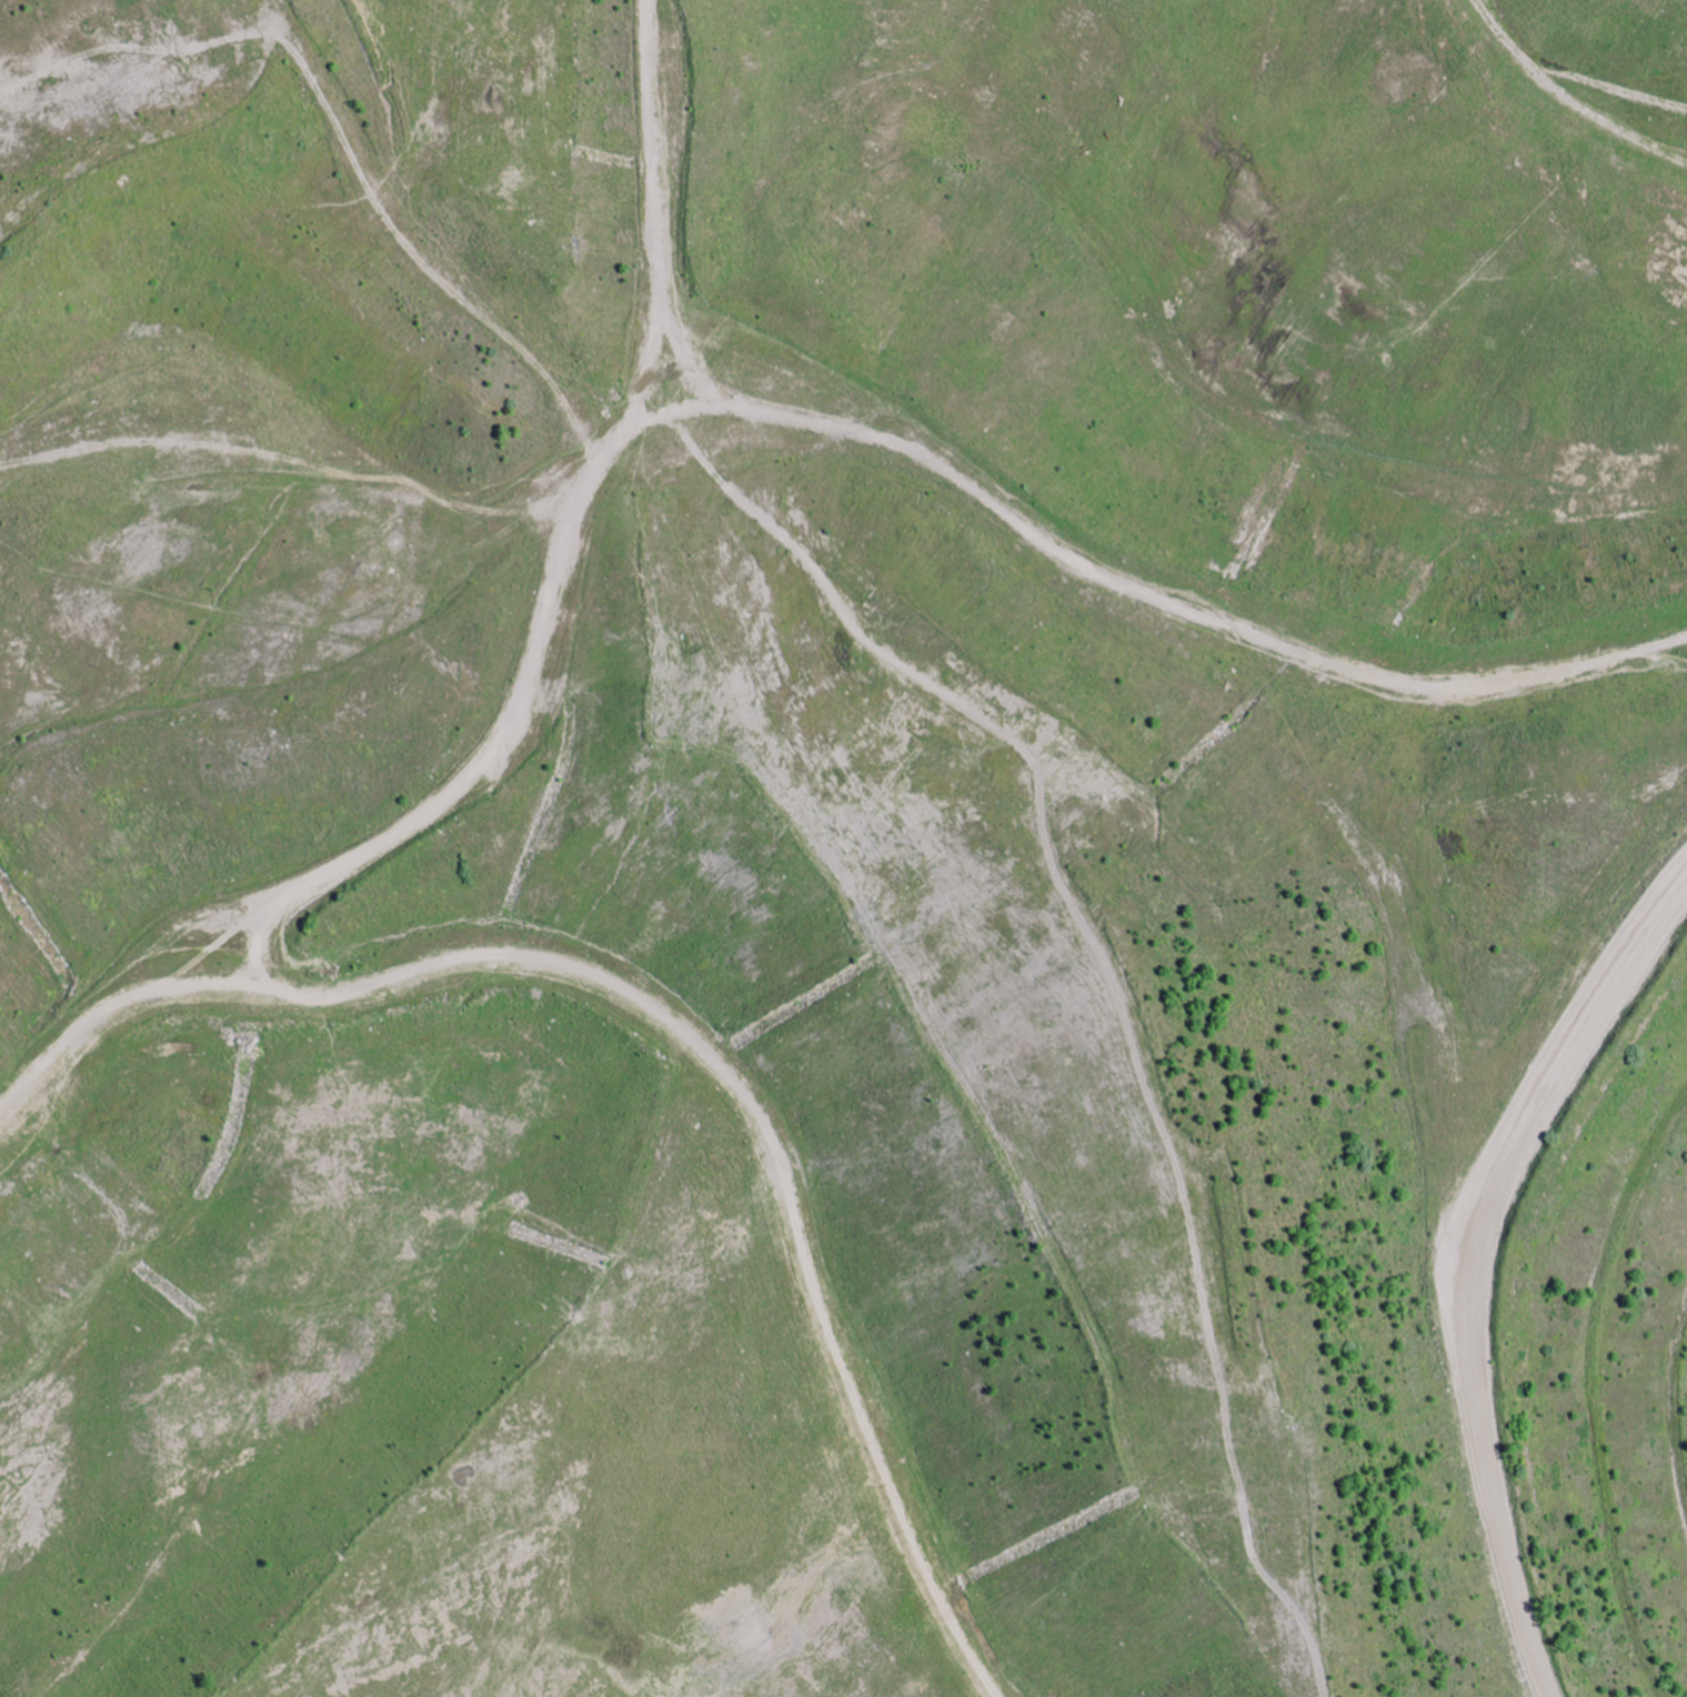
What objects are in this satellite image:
quarry: (843, 848)

